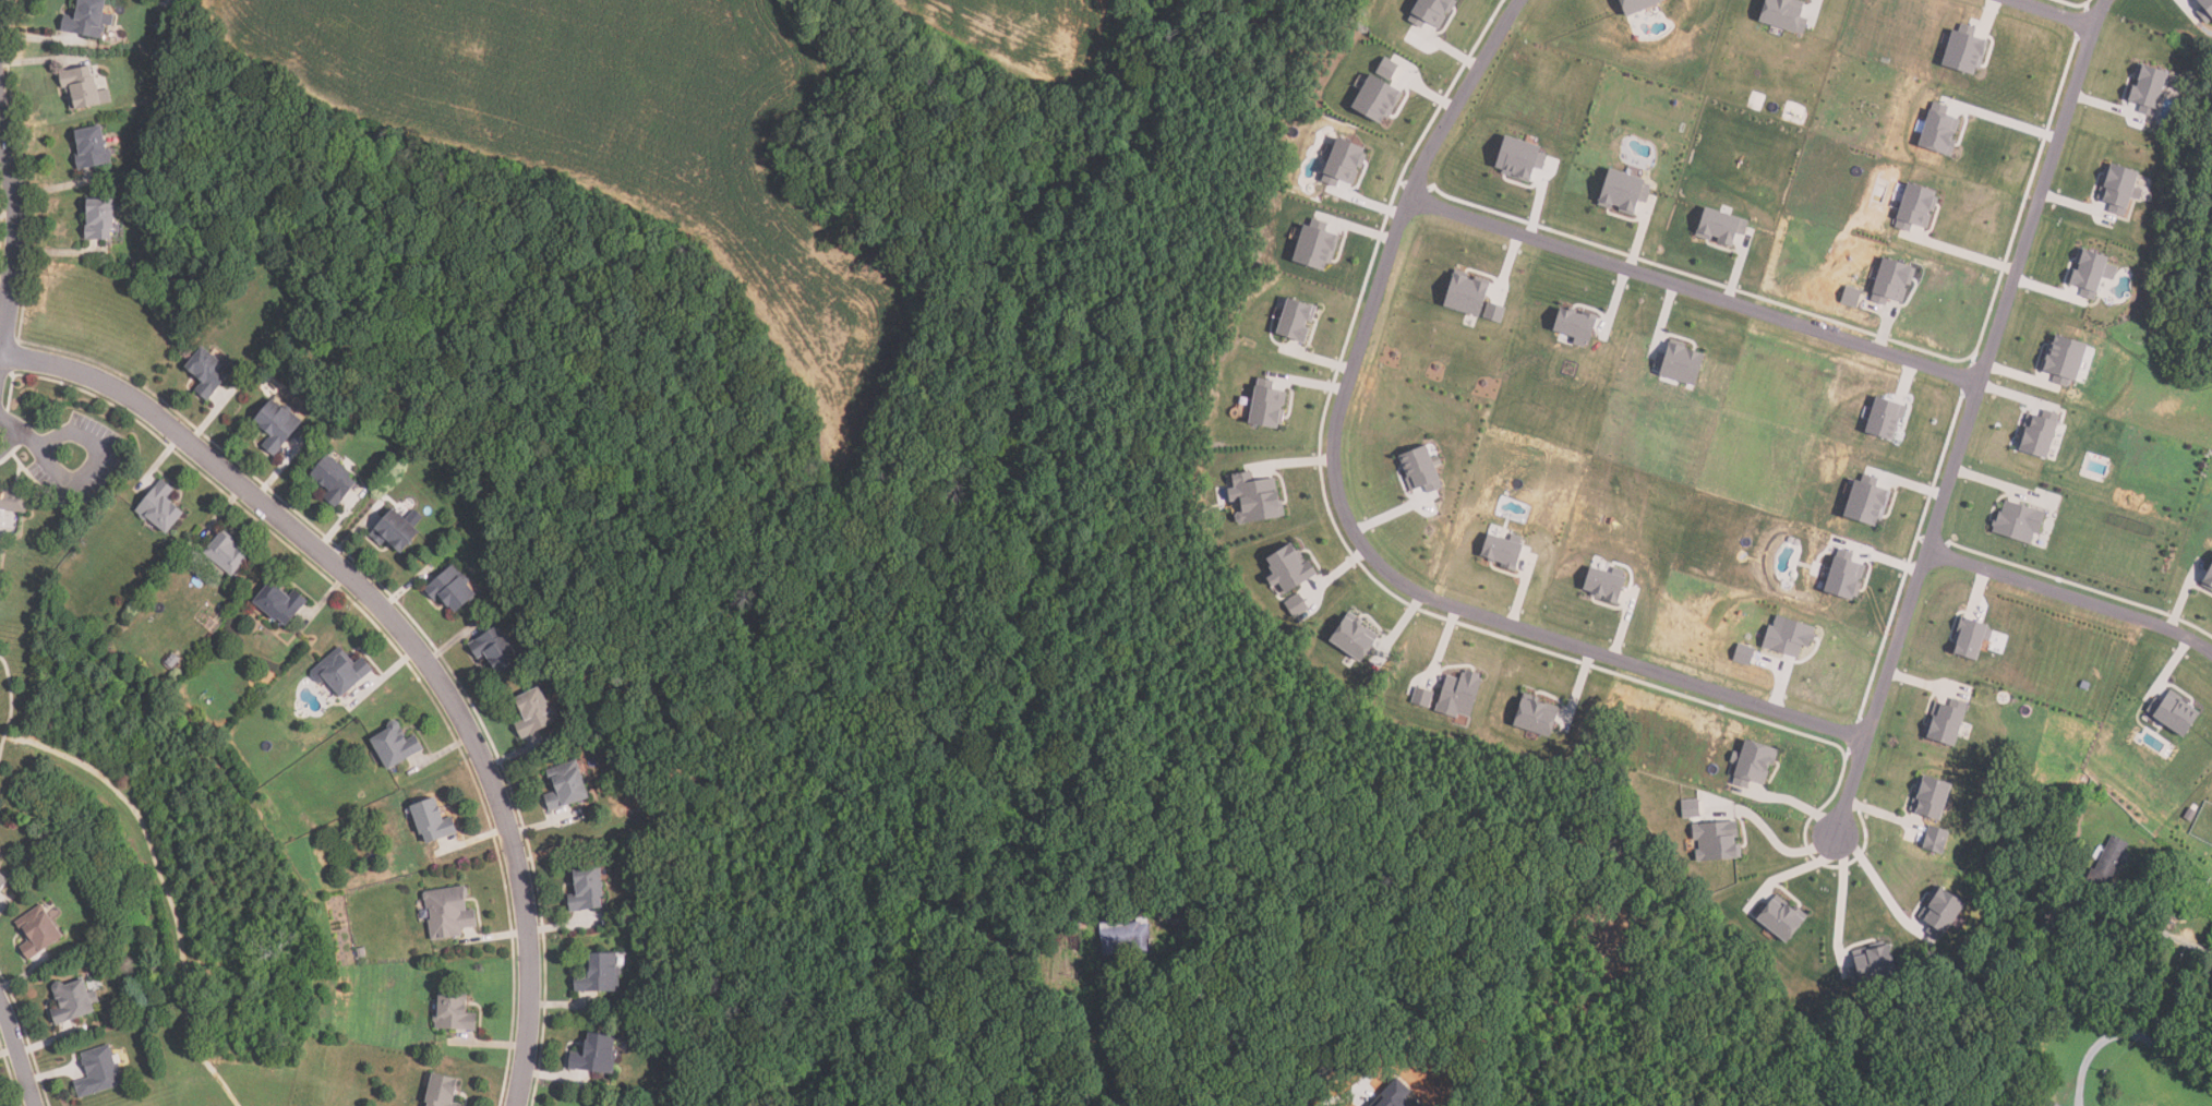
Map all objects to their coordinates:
building: (1643, 4)
building: (1434, 11)
road: (2056, 11)
road: (2100, 11)
building: (2207, 11)
building: (1784, 14)
building: (87, 19)
building: (1965, 49)
building: (1390, 68)
building: (2151, 86)
building: (81, 88)
building: (1380, 98)
road: (1999, 119)
building: (1939, 129)
building: (92, 146)
building: (1520, 156)
building: (1346, 161)
building: (2120, 187)
building: (1625, 190)
building: (1920, 206)
building: (100, 218)
building: (1724, 226)
road: (17, 236)
building: (1319, 247)
road: (1959, 253)
building: (2093, 271)
building: (1895, 280)
road: (1693, 289)
building: (1470, 293)
building: (1853, 296)
building: (1496, 311)
building: (1296, 318)
building: (1579, 325)
building: (2067, 359)
building: (1683, 362)
road: (1, 365)
building: (208, 371)
building: (1270, 404)
building: (1889, 418)
building: (277, 425)
road: (1962, 428)
building: (2042, 432)
road: (21, 436)
road: (98, 461)
building: (1423, 469)
building: (335, 480)
building: (1259, 497)
building: (14, 498)
building: (1871, 503)
building: (160, 507)
building: (2020, 521)
road: (1348, 524)
building: (394, 531)
building: (1505, 550)
building: (227, 553)
building: (1288, 569)
building: (1849, 574)
building: (2207, 576)
building: (1606, 584)
building: (452, 589)
road: (2069, 596)
building: (280, 602)
building: (1299, 605)
building: (1792, 633)
road: (405, 635)
building: (1358, 637)
building: (1973, 637)
building: (495, 648)
building: (1744, 657)
building: (342, 671)
building: (1460, 694)
building: (1424, 697)
building: (533, 711)
building: (2168, 713)
building: (1537, 716)
building: (1947, 723)
building: (396, 744)
building: (1756, 764)
building: (566, 785)
building: (1934, 797)
road: (1802, 805)
building: (1693, 808)
road: (1883, 813)
building: (432, 821)
road: (1771, 837)
building: (1938, 839)
building: (1719, 841)
building: (2104, 865)
road: (1801, 869)
building: (3, 882)
road: (1877, 883)
building: (587, 889)
road: (1841, 900)
building: (1945, 912)
building: (448, 913)
building: (1175, 917)
building: (1784, 917)
building: (1079, 923)
building: (1060, 926)
building: (37, 931)
building: (1127, 936)
road: (2178, 942)
building: (1212, 957)
building: (1579, 957)
building: (1875, 963)
road: (1202, 972)
building: (600, 973)
building: (72, 1000)
building: (455, 1010)
building: (2053, 1013)
road: (2127, 1035)
road: (1543, 1050)
road: (19, 1053)
building: (596, 1054)
building: (99, 1071)
road: (1221, 1075)
building: (1995, 1087)
building: (442, 1091)
road: (1358, 1095)
building: (1398, 1095)
building: (2047, 1104)

